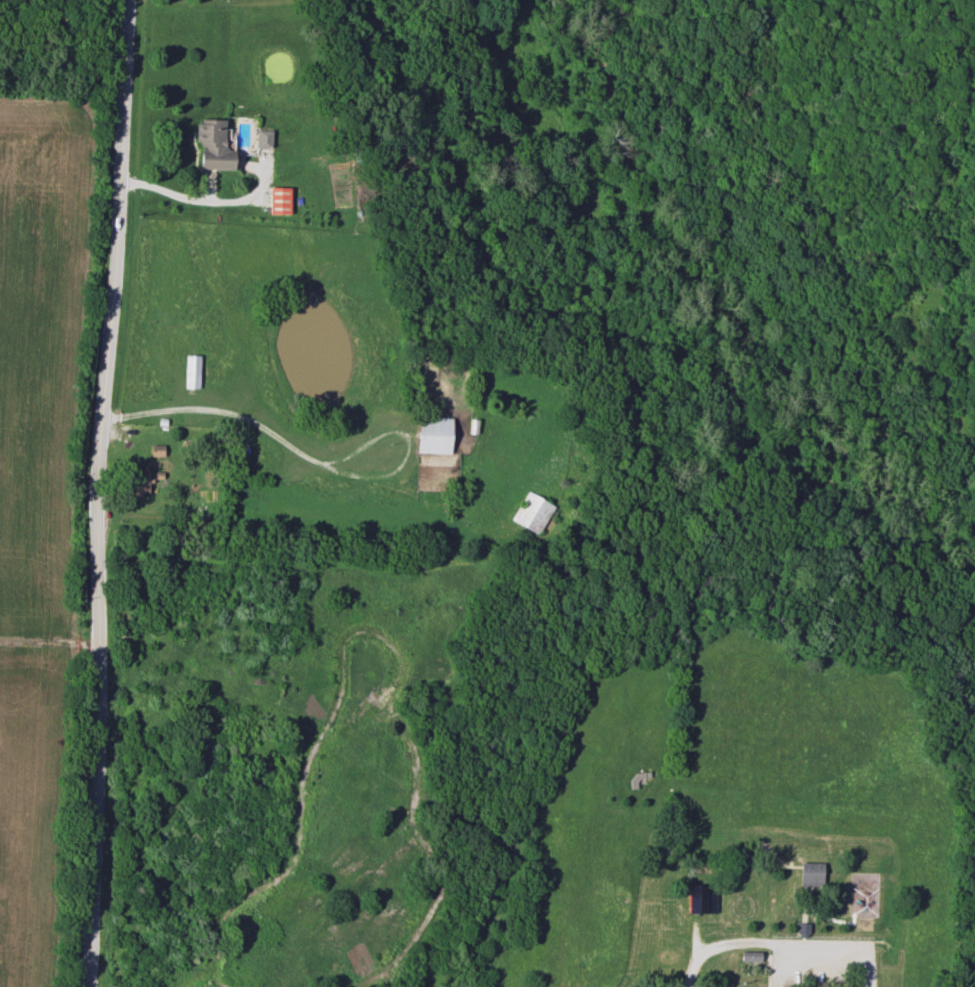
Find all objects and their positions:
park: (63, 37)
building: (262, 138)
building: (213, 144)
park: (807, 189)
road: (191, 198)
building: (277, 200)
building: (191, 371)
building: (432, 434)
road: (311, 459)
building: (139, 482)
road: (96, 492)
crop: (35, 495)
building: (530, 512)
park: (490, 559)
road: (404, 562)
road: (819, 567)
road: (565, 633)
road: (572, 717)
road: (780, 862)
building: (811, 872)
building: (696, 898)
road: (805, 914)
road: (715, 949)
road: (804, 950)
road: (823, 960)
road: (692, 970)
road: (368, 972)
road: (203, 978)
road: (389, 978)

